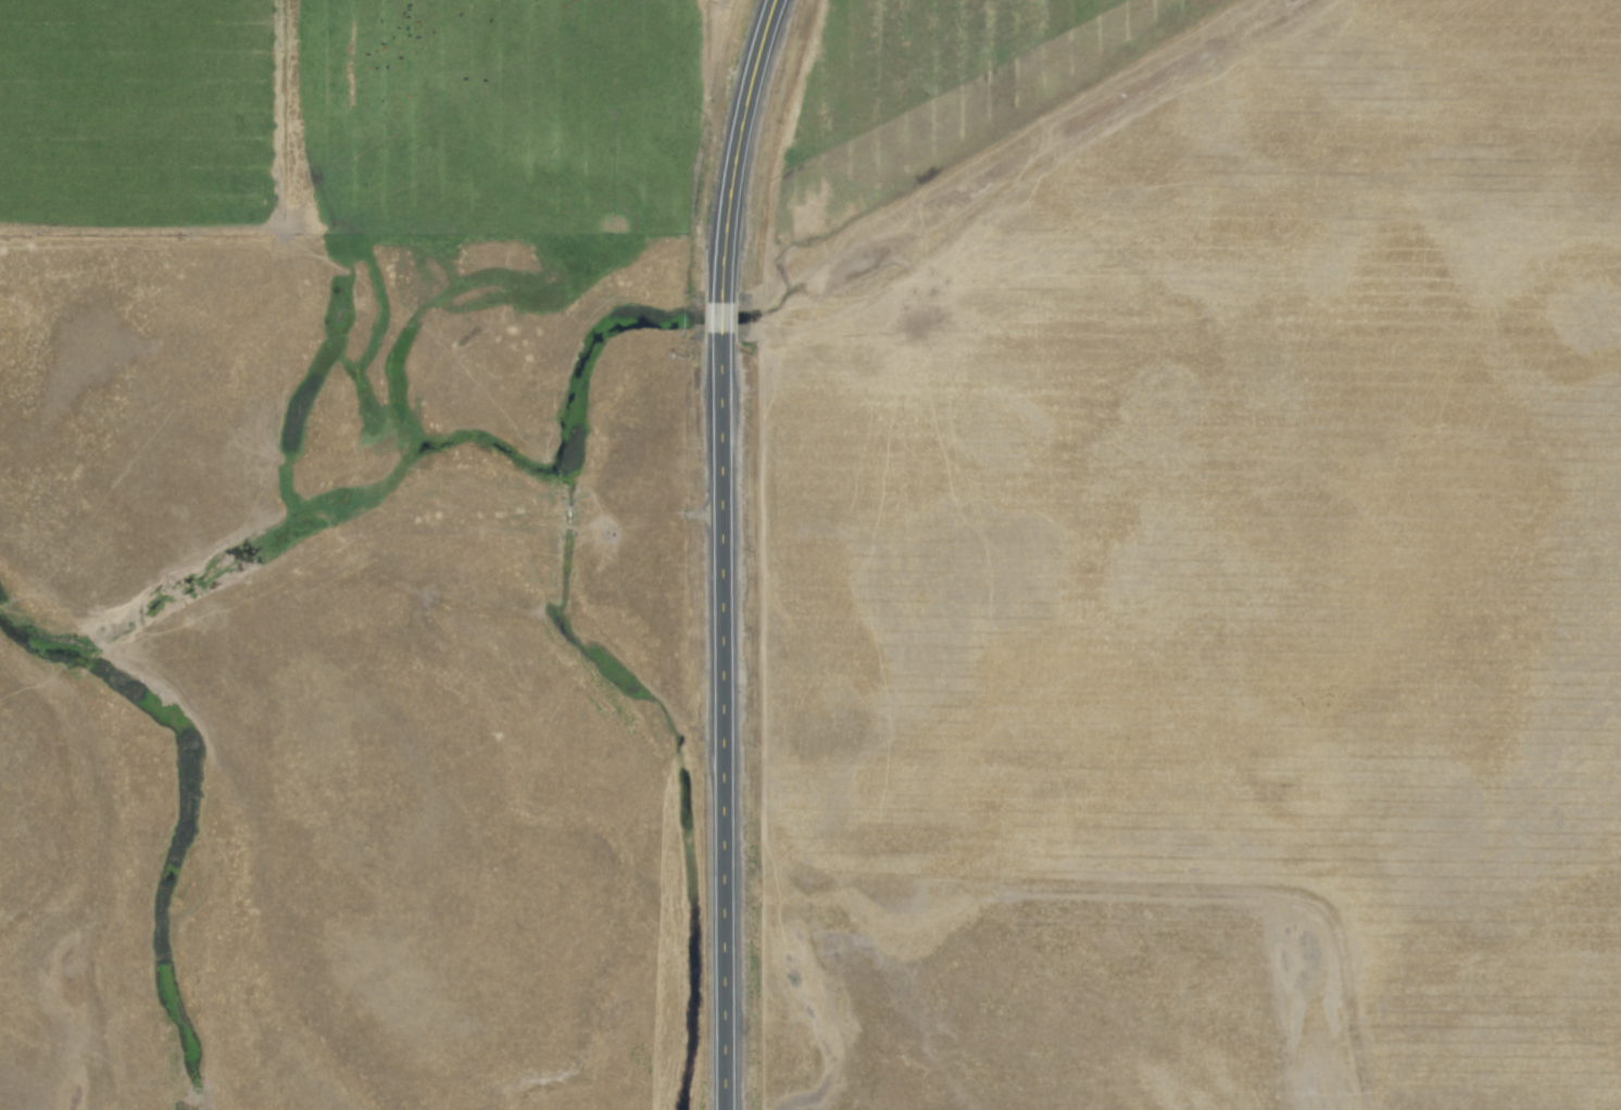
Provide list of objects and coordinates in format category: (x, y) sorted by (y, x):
road: (733, 551)

